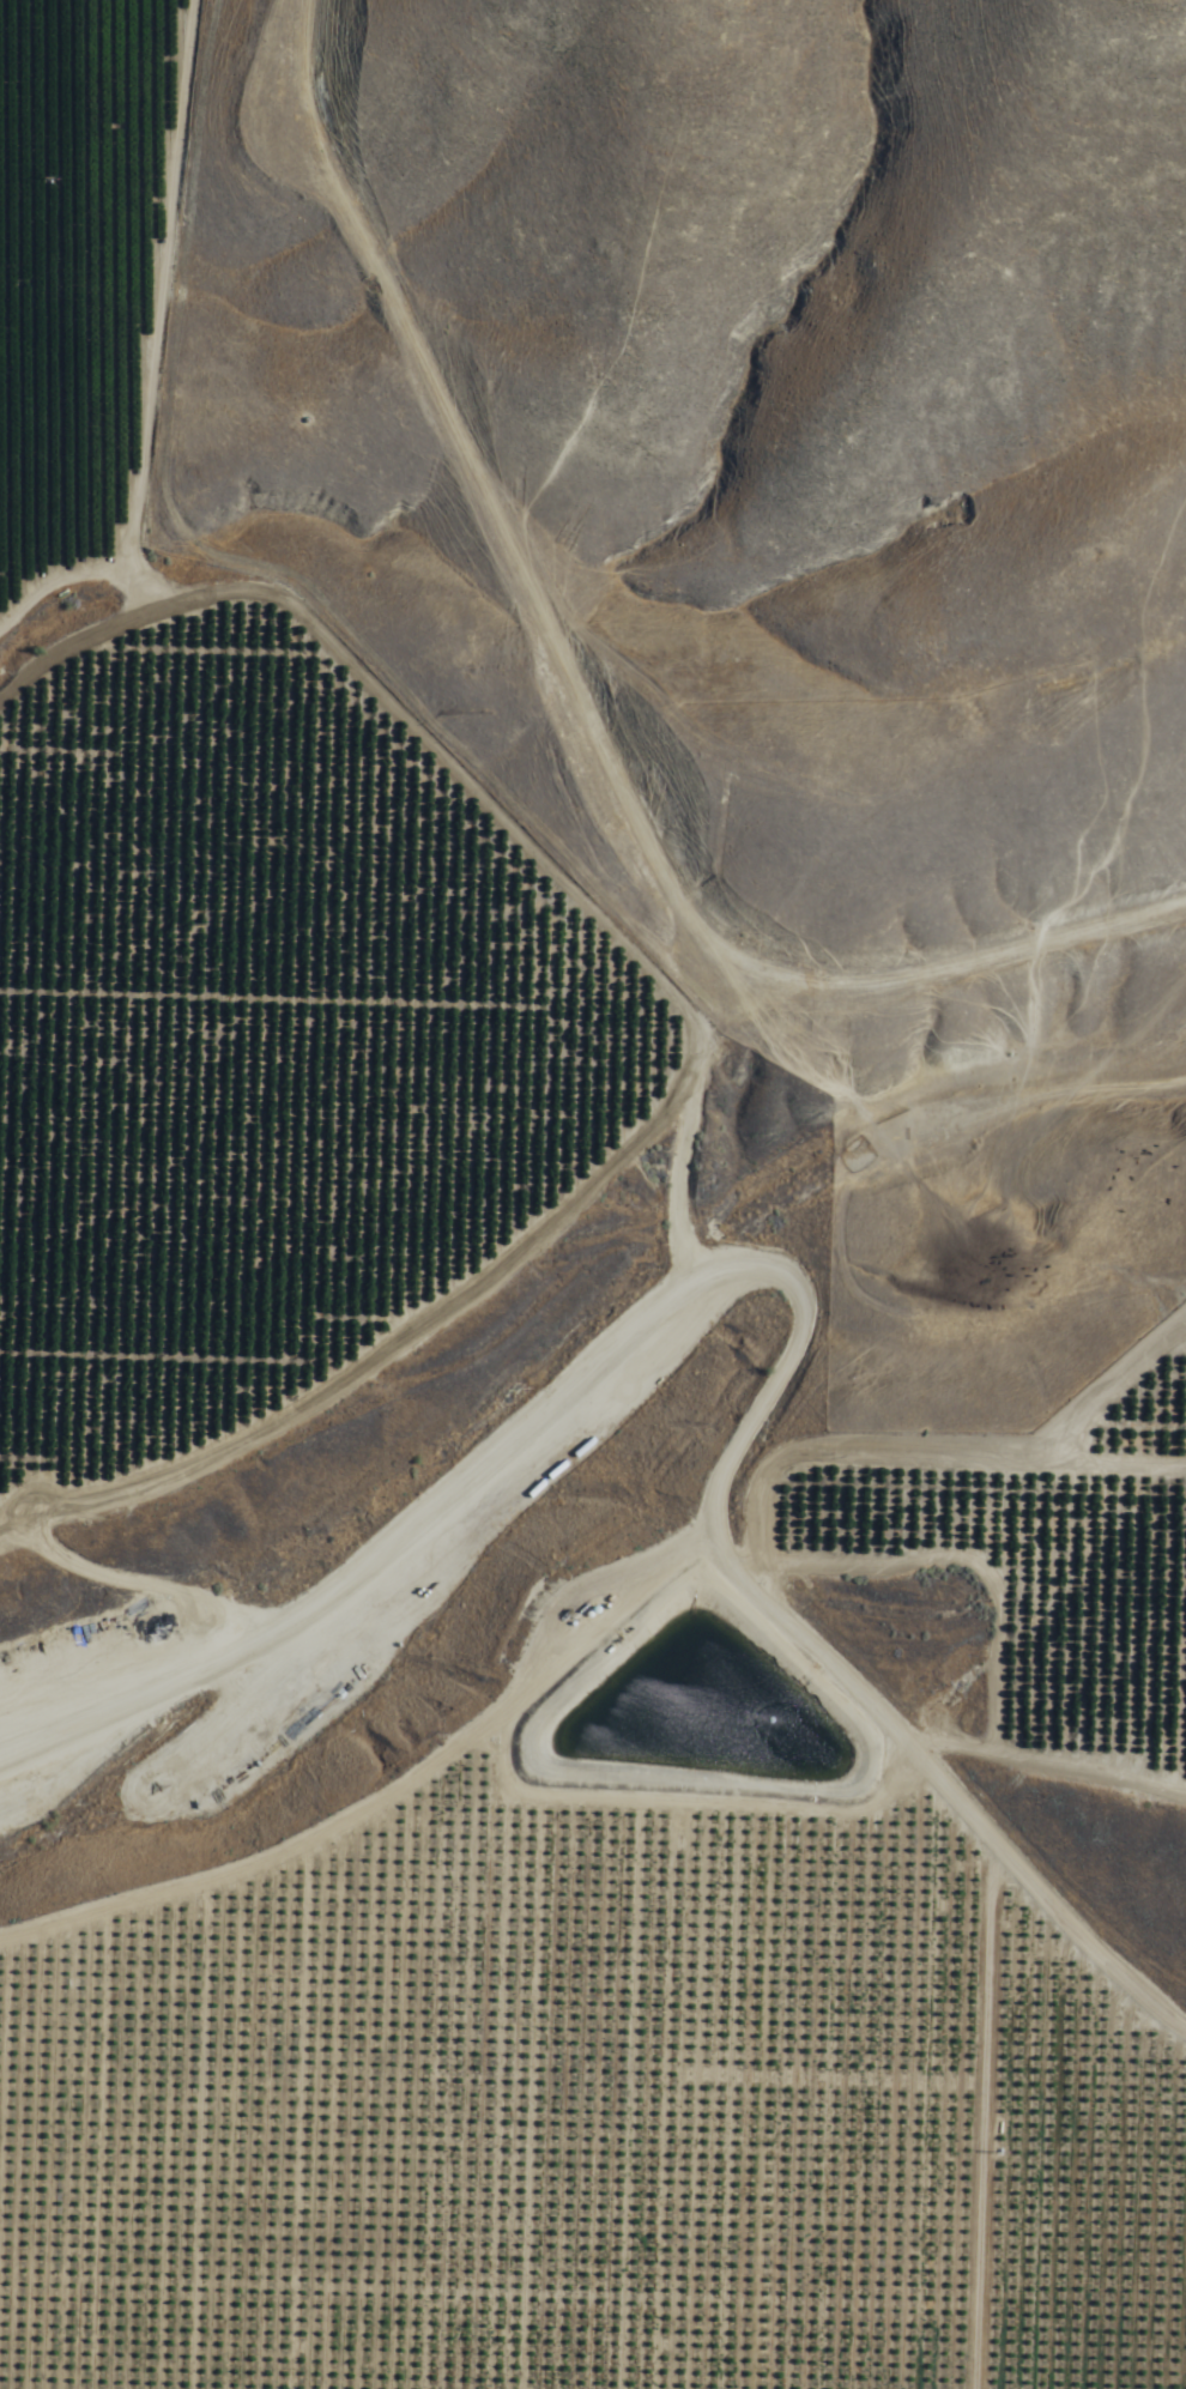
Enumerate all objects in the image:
crop: (237, 881)
road: (634, 1348)
road: (609, 1632)
road: (116, 1736)
road: (878, 1776)
crop: (588, 2104)

